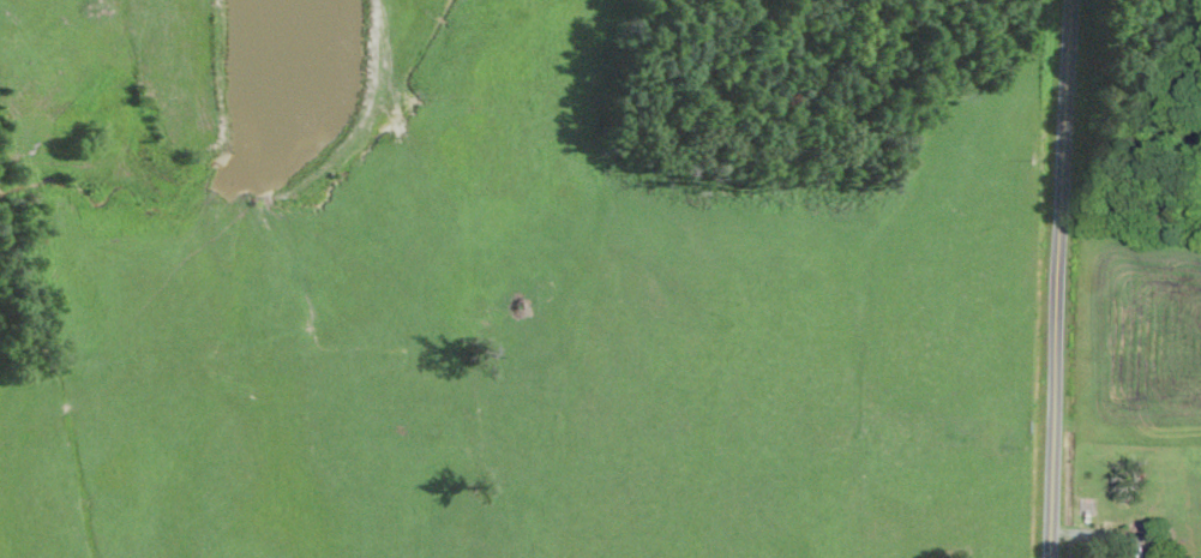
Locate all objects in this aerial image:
road: (1059, 278)

